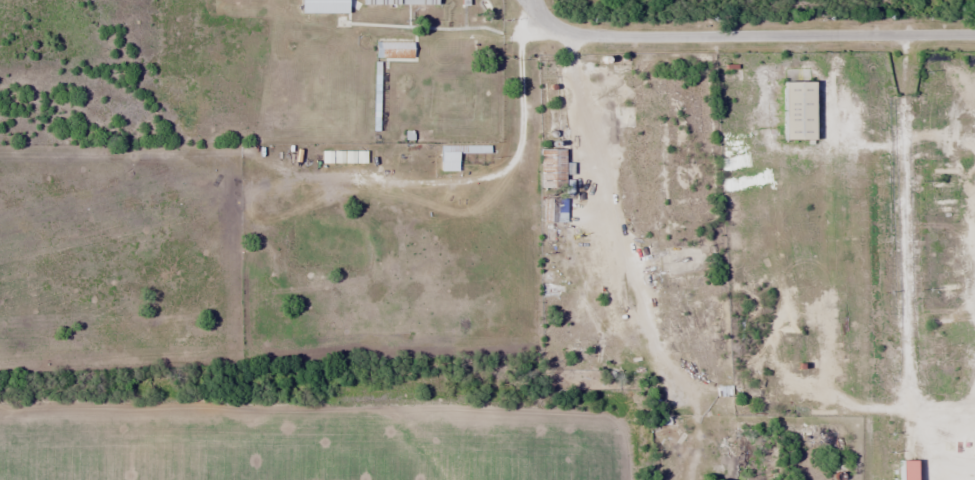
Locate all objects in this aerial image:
building: (379, 2)
building: (418, 2)
building: (322, 6)
road: (531, 7)
road: (544, 20)
road: (769, 33)
building: (393, 49)
building: (796, 110)
building: (348, 156)
building: (448, 161)
building: (550, 169)
building: (559, 209)

